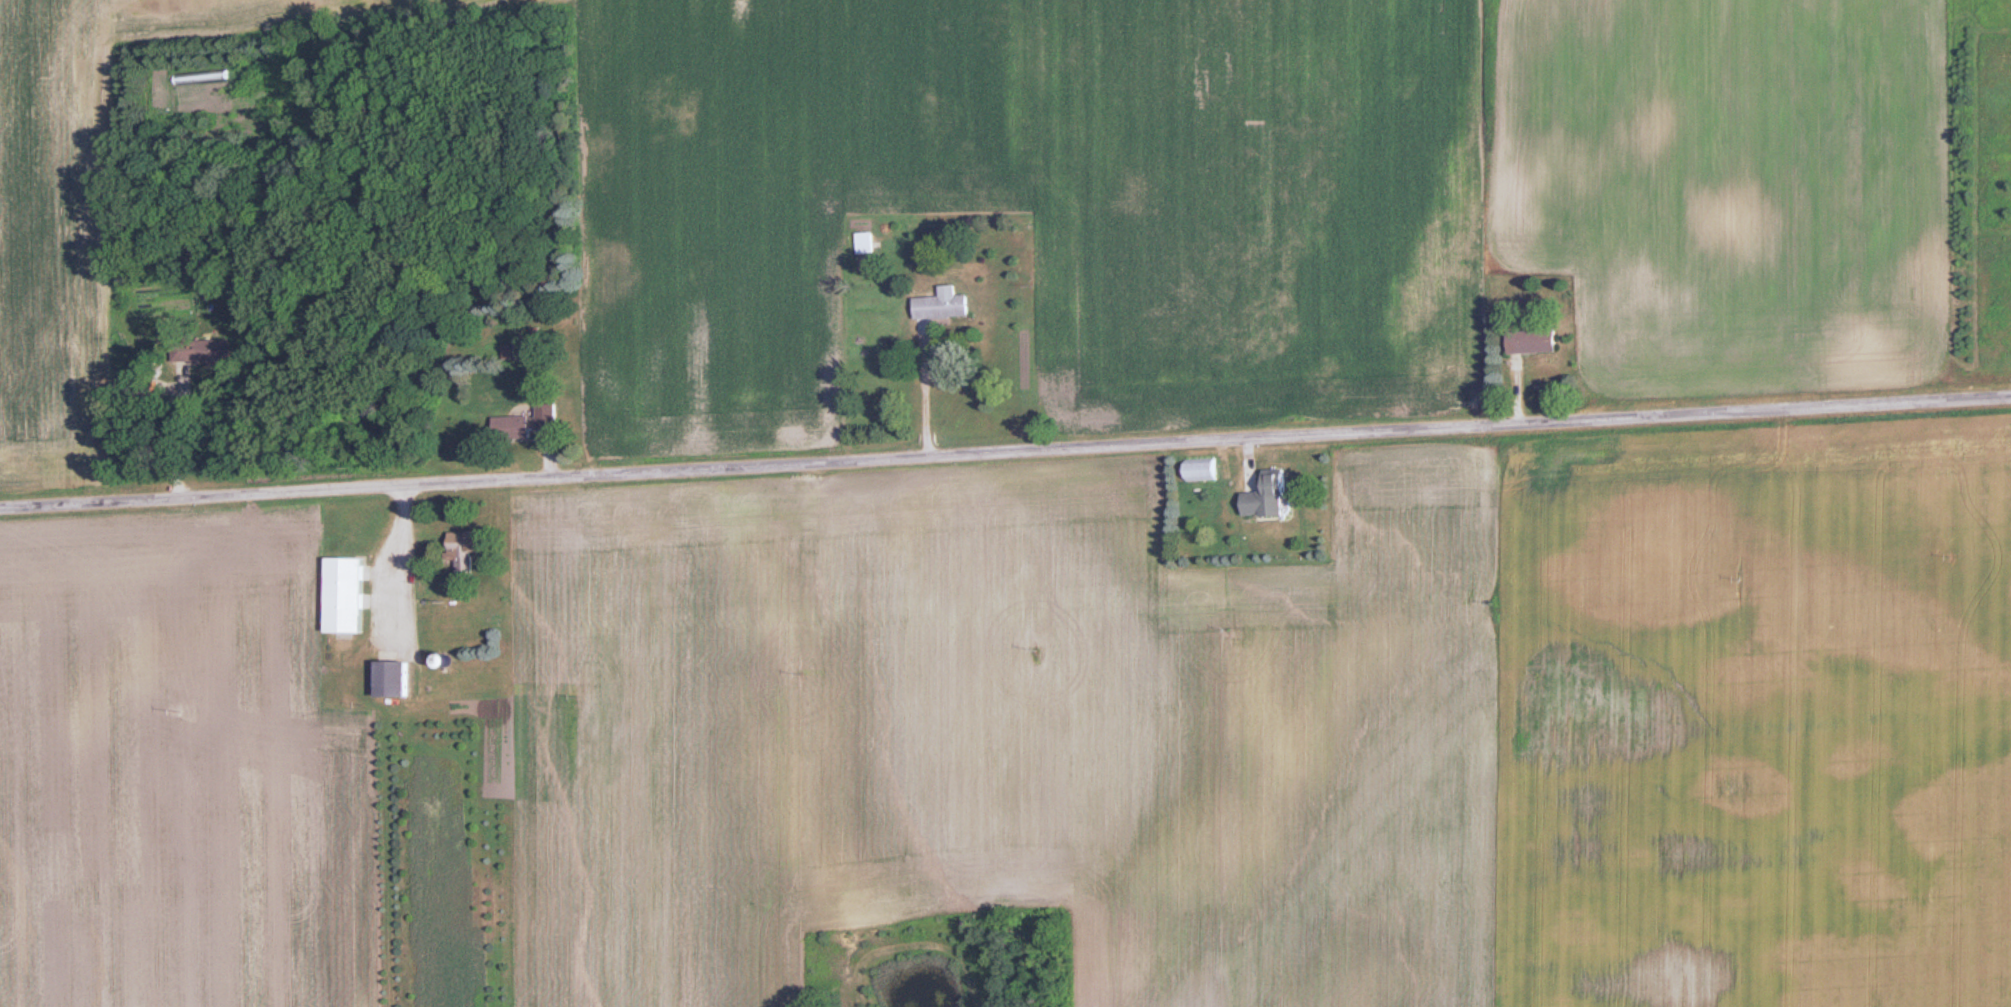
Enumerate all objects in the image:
building: (864, 242)
building: (943, 304)
building: (1532, 341)
building: (203, 350)
road: (919, 395)
building: (528, 422)
road: (186, 432)
road: (1005, 453)
building: (1200, 469)
building: (1268, 496)
building: (464, 548)
building: (345, 594)
building: (392, 678)

